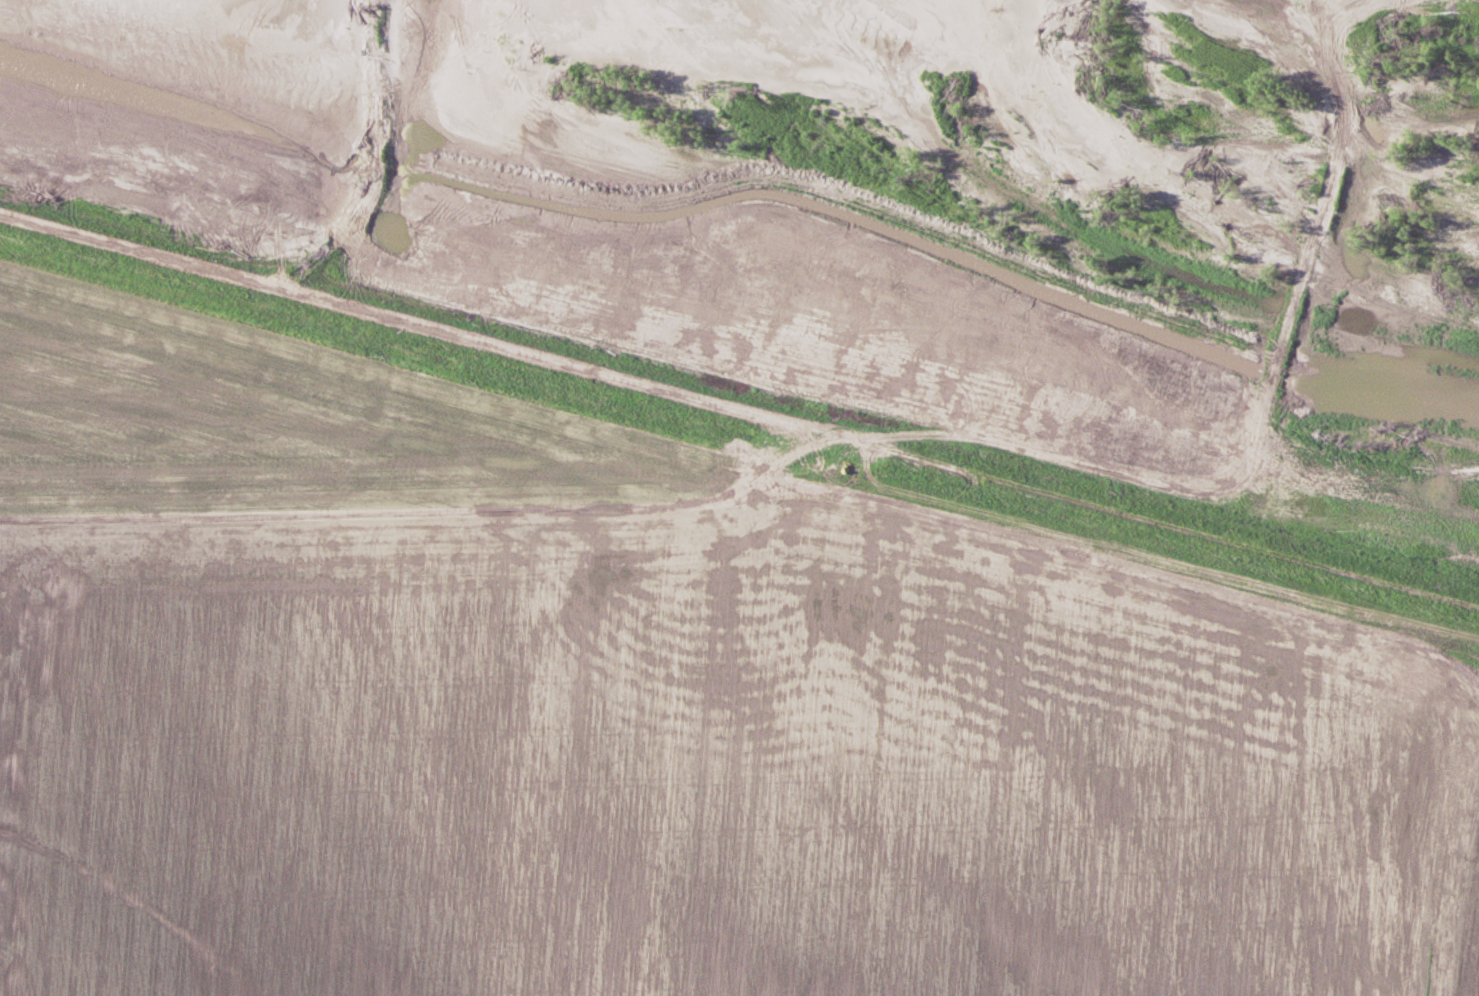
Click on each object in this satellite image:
road: (981, 160)
road: (866, 406)
road: (753, 469)

